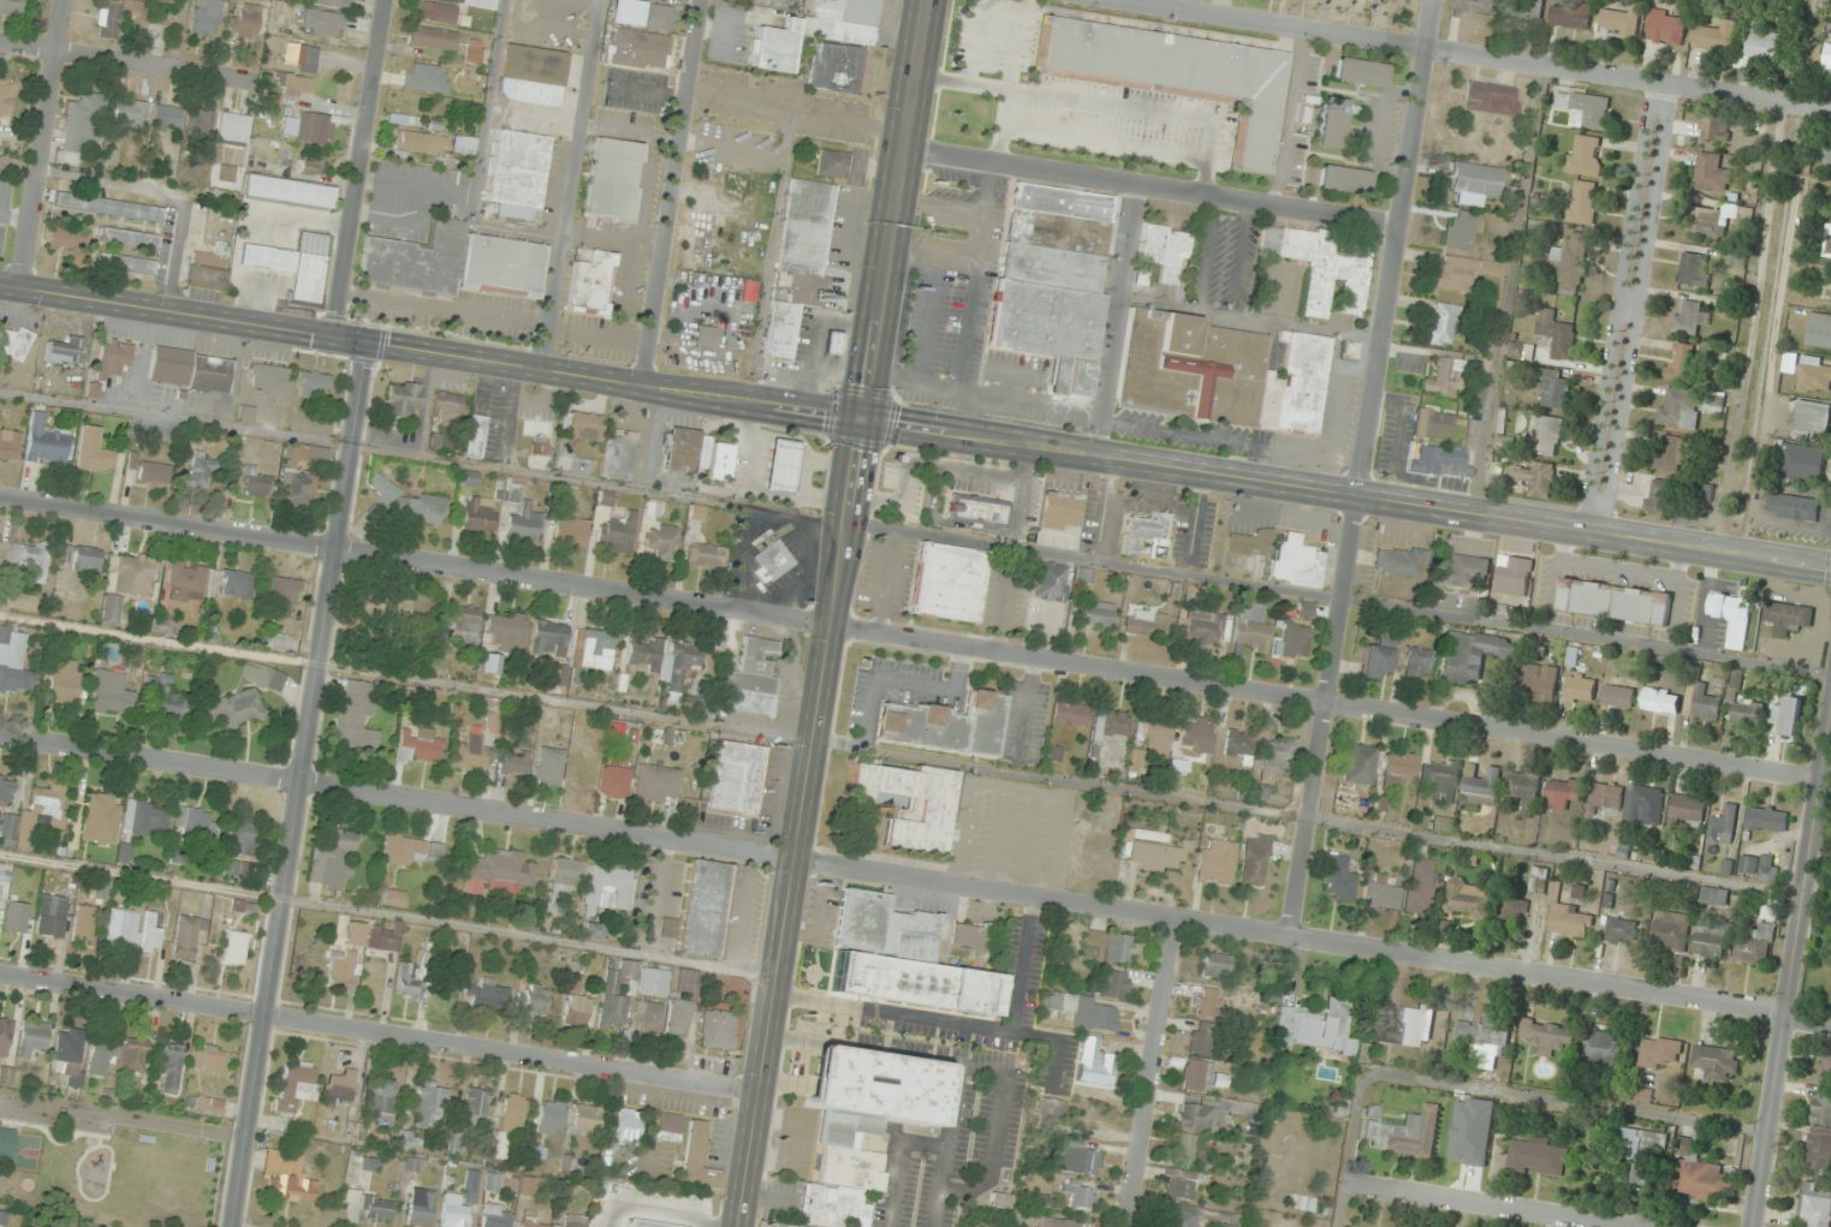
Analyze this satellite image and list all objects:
building: (1393, 0)
building: (481, 2)
building: (333, 4)
building: (10, 6)
building: (1474, 8)
building: (1522, 10)
building: (436, 12)
building: (204, 16)
building: (1570, 16)
building: (108, 18)
building: (659, 18)
building: (244, 20)
building: (1619, 22)
building: (1666, 26)
building: (815, 31)
road: (182, 35)
building: (433, 37)
building: (1714, 37)
building: (1762, 44)
building: (640, 49)
building: (475, 50)
road: (1474, 55)
building: (1827, 56)
building: (299, 58)
road: (136, 64)
building: (838, 67)
building: (1360, 72)
building: (534, 73)
building: (1175, 75)
building: (426, 78)
building: (295, 85)
building: (6, 97)
building: (1488, 97)
building: (1583, 109)
building: (130, 115)
building: (166, 118)
building: (400, 119)
building: (198, 123)
building: (1331, 123)
building: (82, 124)
building: (310, 127)
building: (231, 129)
building: (1714, 129)
building: (418, 142)
road: (44, 143)
building: (463, 144)
building: (1824, 153)
building: (1585, 156)
building: (832, 163)
building: (309, 166)
road: (355, 168)
building: (517, 172)
building: (226, 173)
building: (1711, 173)
building: (612, 179)
building: (1474, 179)
building: (1343, 180)
road: (575, 185)
building: (737, 186)
road: (1151, 189)
building: (289, 191)
road: (672, 192)
building: (1582, 203)
building: (108, 206)
building: (1714, 220)
building: (805, 228)
building: (1458, 230)
building: (66, 238)
building: (130, 239)
building: (1827, 242)
building: (1163, 249)
building: (126, 263)
building: (293, 263)
building: (453, 263)
building: (1571, 263)
building: (1320, 267)
building: (207, 269)
building: (1695, 270)
building: (1455, 273)
building: (1053, 279)
building: (590, 284)
building: (1821, 284)
building: (814, 302)
road: (1633, 309)
building: (1688, 320)
road: (1119, 322)
building: (1440, 324)
building: (781, 329)
building: (1819, 332)
building: (1557, 335)
building: (706, 336)
traffic signals: (333, 338)
building: (832, 343)
building: (14, 344)
traffic signals: (370, 346)
building: (64, 350)
building: (1521, 351)
road: (429, 353)
building: (113, 359)
building: (1680, 363)
building: (190, 369)
building: (1218, 373)
building: (1809, 374)
building: (1444, 376)
building: (272, 382)
building: (311, 383)
building: (1553, 388)
building: (404, 399)
building: (1717, 400)
building: (450, 406)
building: (1681, 409)
building: (1813, 419)
traffic signals: (860, 422)
building: (1433, 424)
building: (583, 425)
building: (475, 436)
building: (1545, 436)
building: (46, 442)
building: (10, 443)
building: (540, 446)
building: (1509, 446)
building: (685, 449)
building: (94, 453)
building: (308, 453)
building: (618, 454)
building: (1669, 454)
building: (720, 461)
building: (1439, 461)
building: (1802, 461)
building: (780, 466)
road: (1365, 467)
building: (200, 469)
building: (151, 470)
building: (1534, 478)
building: (249, 480)
building: (297, 486)
road: (1345, 495)
building: (605, 496)
building: (1658, 499)
building: (411, 505)
building: (655, 505)
building: (1793, 507)
building: (977, 510)
building: (1060, 510)
building: (478, 513)
building: (525, 522)
building: (571, 531)
building: (617, 534)
building: (0, 537)
building: (1147, 538)
building: (661, 541)
building: (1250, 543)
building: (706, 555)
building: (30, 559)
building: (771, 560)
building: (1297, 562)
building: (1397, 562)
building: (1462, 572)
building: (1512, 576)
building: (949, 582)
building: (1052, 582)
building: (185, 583)
building: (234, 583)
building: (127, 584)
building: (283, 595)
building: (1613, 603)
building: (399, 608)
road: (830, 613)
building: (1095, 613)
building: (1731, 615)
building: (1788, 617)
building: (463, 621)
building: (1145, 623)
building: (162, 625)
building: (1206, 626)
building: (1250, 627)
building: (506, 630)
building: (548, 636)
building: (1292, 638)
road: (910, 641)
building: (272, 642)
building: (593, 649)
building: (644, 655)
building: (1473, 655)
building: (442, 656)
building: (1375, 659)
building: (14, 662)
building: (1416, 662)
building: (491, 663)
building: (678, 669)
building: (263, 675)
building: (753, 678)
building: (64, 681)
building: (1538, 683)
building: (108, 690)
building: (1580, 690)
building: (1618, 696)
building: (166, 697)
building: (1661, 699)
building: (1701, 699)
building: (234, 707)
building: (698, 708)
building: (1746, 713)
building: (1070, 714)
building: (352, 716)
building: (1789, 716)
building: (944, 723)
building: (1110, 725)
building: (1152, 734)
building: (1196, 735)
building: (629, 738)
building: (418, 745)
building: (1238, 745)
building: (471, 754)
building: (1274, 757)
building: (515, 762)
building: (1137, 762)
building: (1359, 764)
building: (548, 766)
building: (1401, 766)
building: (737, 776)
building: (1438, 778)
building: (616, 781)
building: (656, 782)
road: (299, 786)
building: (1481, 787)
building: (6, 790)
building: (1524, 792)
building: (1562, 793)
building: (1604, 796)
building: (1345, 798)
building: (910, 803)
building: (1643, 805)
building: (1687, 811)
building: (35, 816)
building: (102, 816)
building: (145, 818)
building: (1766, 820)
building: (1441, 823)
building: (198, 826)
building: (1724, 826)
building: (240, 838)
building: (410, 850)
building: (1154, 852)
building: (125, 853)
building: (332, 857)
building: (1254, 859)
building: (1217, 862)
building: (231, 866)
building: (1759, 866)
building: (498, 872)
building: (565, 875)
building: (0, 876)
building: (1338, 877)
road: (915, 878)
building: (1539, 880)
building: (1420, 882)
building: (607, 889)
building: (1384, 895)
building: (1714, 897)
building: (394, 898)
building: (1467, 900)
building: (701, 910)
building: (1511, 911)
building: (1767, 912)
building: (50, 915)
building: (17, 916)
building: (1567, 917)
building: (83, 923)
building: (123, 928)
building: (591, 930)
building: (1622, 930)
building: (1670, 930)
building: (150, 934)
building: (188, 935)
building: (974, 935)
building: (387, 937)
building: (1710, 942)
building: (1754, 943)
building: (233, 947)
building: (1108, 947)
building: (900, 958)
building: (1215, 965)
building: (339, 969)
road: (1793, 970)
building: (653, 979)
building: (410, 981)
building: (1113, 984)
building: (618, 993)
building: (486, 994)
building: (535, 999)
building: (576, 1001)
building: (1208, 1002)
building: (1086, 1011)
building: (648, 1015)
building: (678, 1017)
building: (1399, 1024)
building: (718, 1025)
building: (1314, 1026)
road: (378, 1034)
building: (5, 1035)
building: (1547, 1036)
building: (32, 1037)
building: (1201, 1042)
building: (1482, 1042)
building: (1601, 1047)
building: (1660, 1053)
building: (135, 1055)
building: (101, 1056)
building: (69, 1058)
building: (208, 1058)
building: (1093, 1062)
building: (1714, 1064)
building: (1826, 1064)
building: (171, 1066)
road: (1154, 1074)
building: (1196, 1074)
building: (295, 1084)
building: (340, 1086)
road: (1490, 1091)
building: (1640, 1096)
building: (381, 1097)
building: (206, 1104)
building: (429, 1104)
building: (476, 1104)
building: (1051, 1108)
building: (1821, 1108)
building: (512, 1112)
building: (1195, 1114)
building: (551, 1118)
building: (587, 1118)
building: (860, 1125)
building: (668, 1127)
building: (625, 1130)
building: (1405, 1133)
building: (408, 1139)
building: (6, 1142)
building: (1642, 1143)
building: (1183, 1145)
building: (1819, 1149)
building: (537, 1152)
building: (697, 1157)
building: (1535, 1157)
building: (1082, 1158)
park: (113, 1174)
building: (1699, 1174)
building: (287, 1177)
building: (471, 1185)
building: (1179, 1187)
building: (1081, 1196)
building: (999, 1199)
road: (1481, 1205)
building: (1815, 1205)
building: (379, 1208)
building: (421, 1208)
building: (453, 1211)
building: (497, 1215)
building: (1181, 1216)
building: (572, 1221)
building: (1053, 1222)
building: (533, 1223)
building: (653, 1223)

